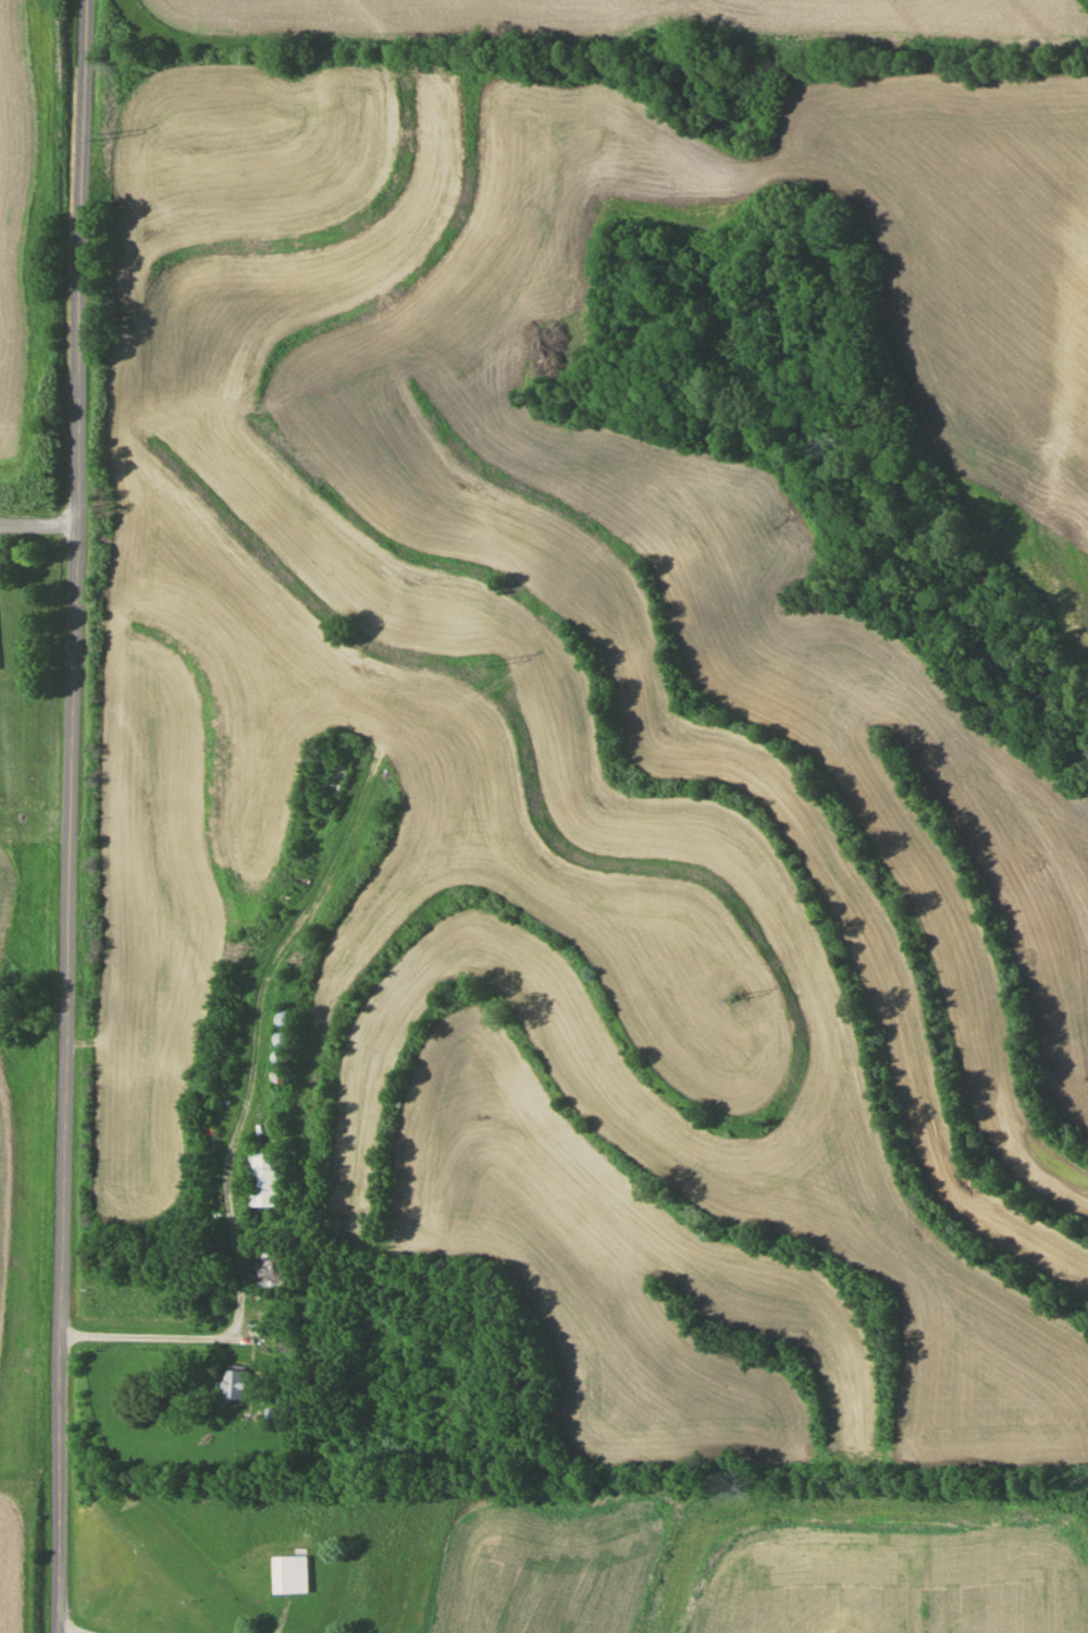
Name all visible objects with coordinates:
power tower: (107, 140)
road: (37, 520)
power tower: (484, 671)
building: (321, 783)
road: (69, 815)
power tower: (737, 1017)
building: (283, 1019)
building: (281, 1046)
building: (264, 1179)
building: (270, 1265)
road: (219, 1330)
building: (288, 1340)
building: (237, 1383)
power tower: (1072, 1473)
building: (289, 1573)
road: (57, 1632)

